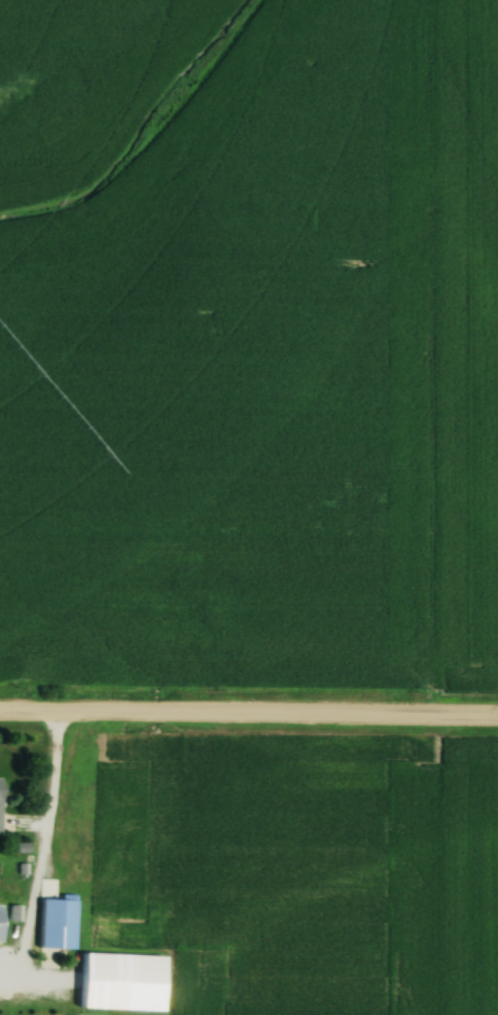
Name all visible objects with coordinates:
road: (248, 714)
road: (51, 784)
building: (1, 805)
building: (128, 921)
building: (2, 923)
building: (56, 937)
building: (123, 982)

